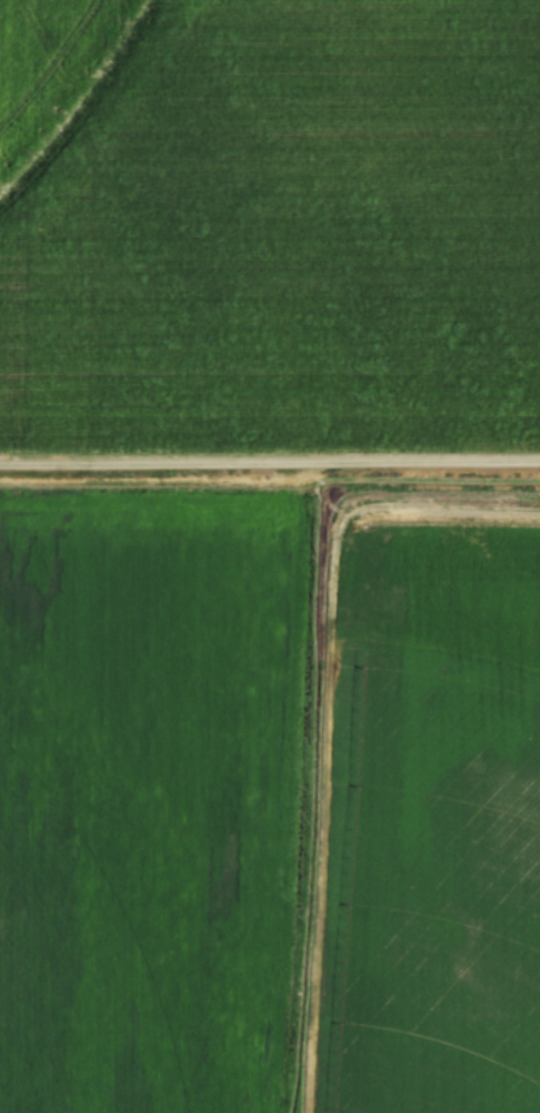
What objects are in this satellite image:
road: (269, 462)

